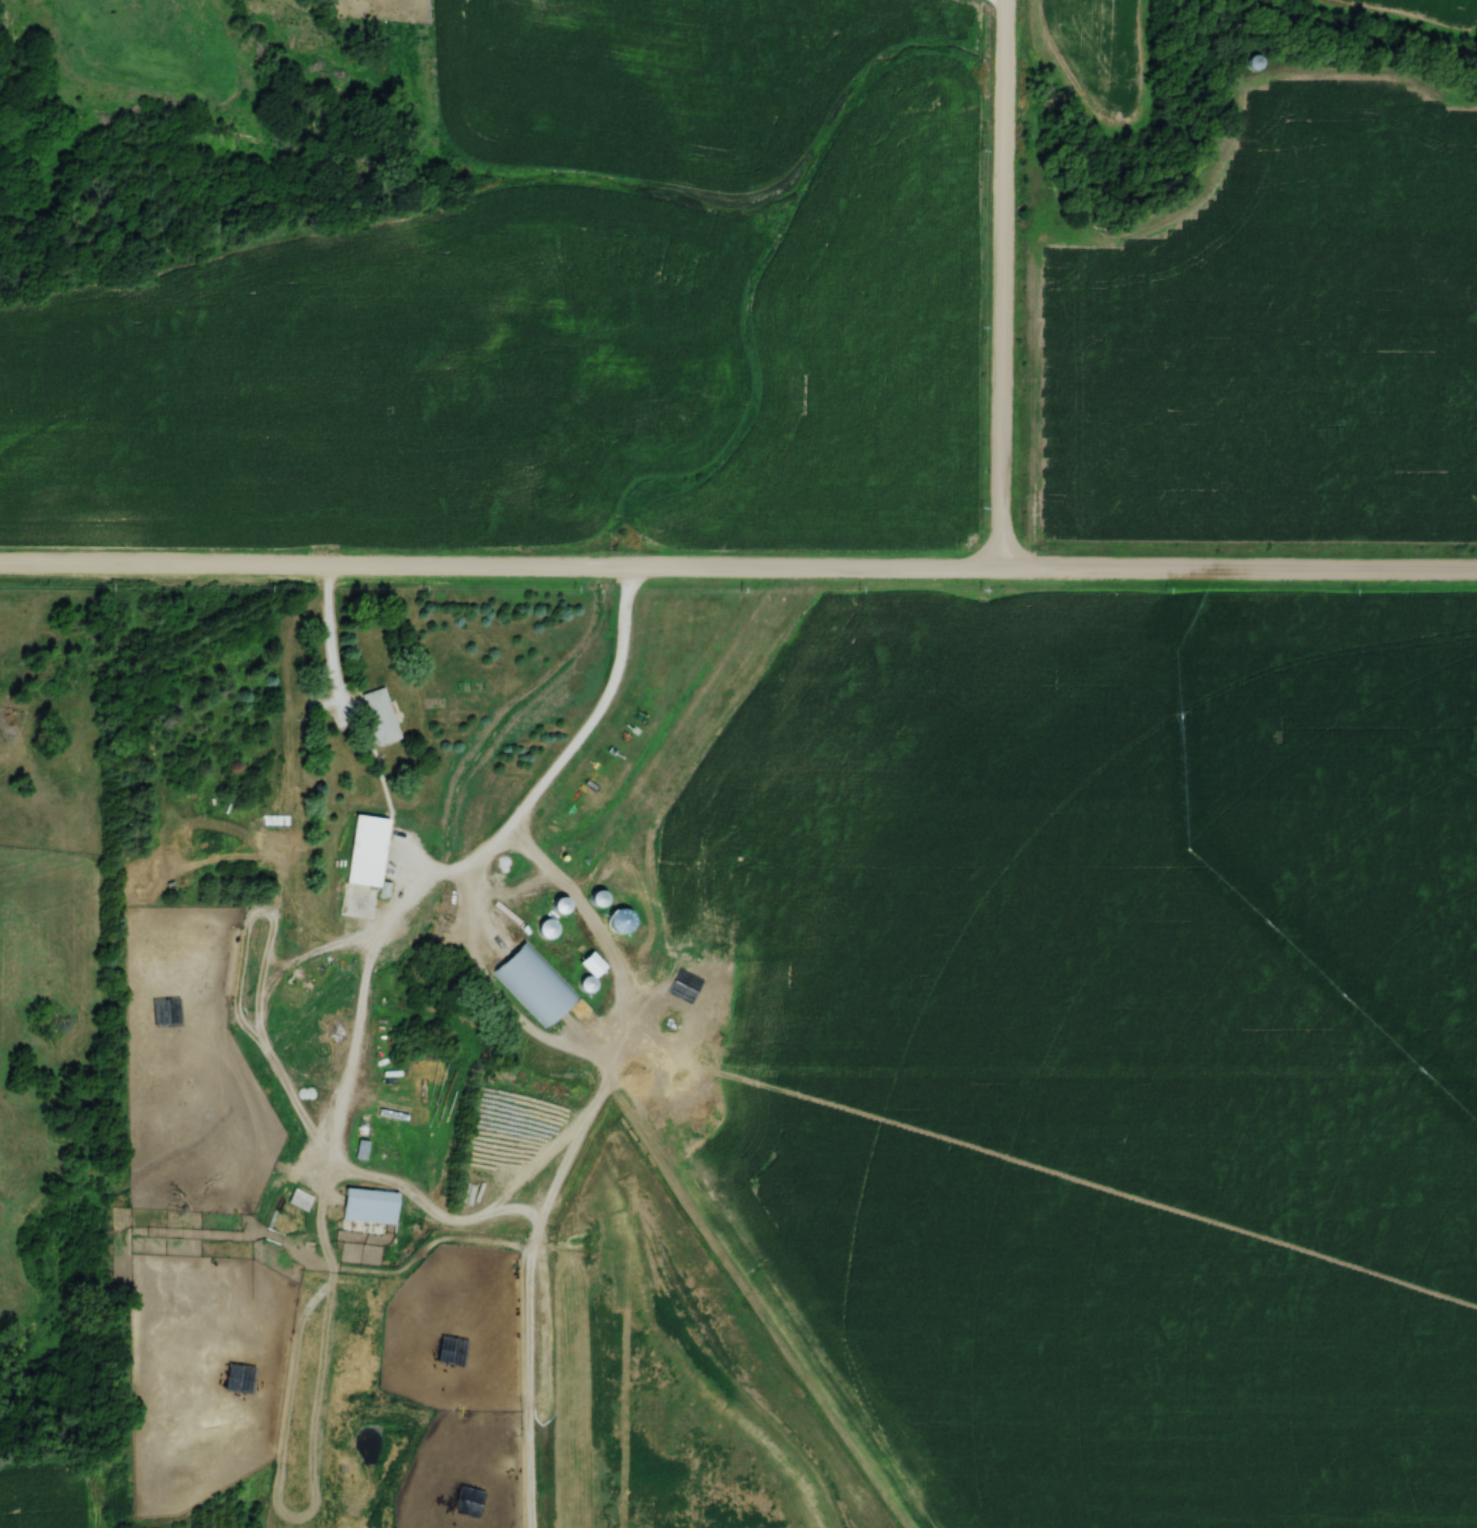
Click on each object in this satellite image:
road: (1003, 0)
building: (1252, 63)
road: (1004, 287)
road: (738, 573)
road: (330, 643)
building: (378, 717)
building: (695, 765)
building: (364, 860)
building: (596, 900)
building: (546, 930)
building: (564, 940)
building: (591, 966)
building: (534, 985)
road: (329, 1149)
building: (299, 1200)
building: (368, 1207)

